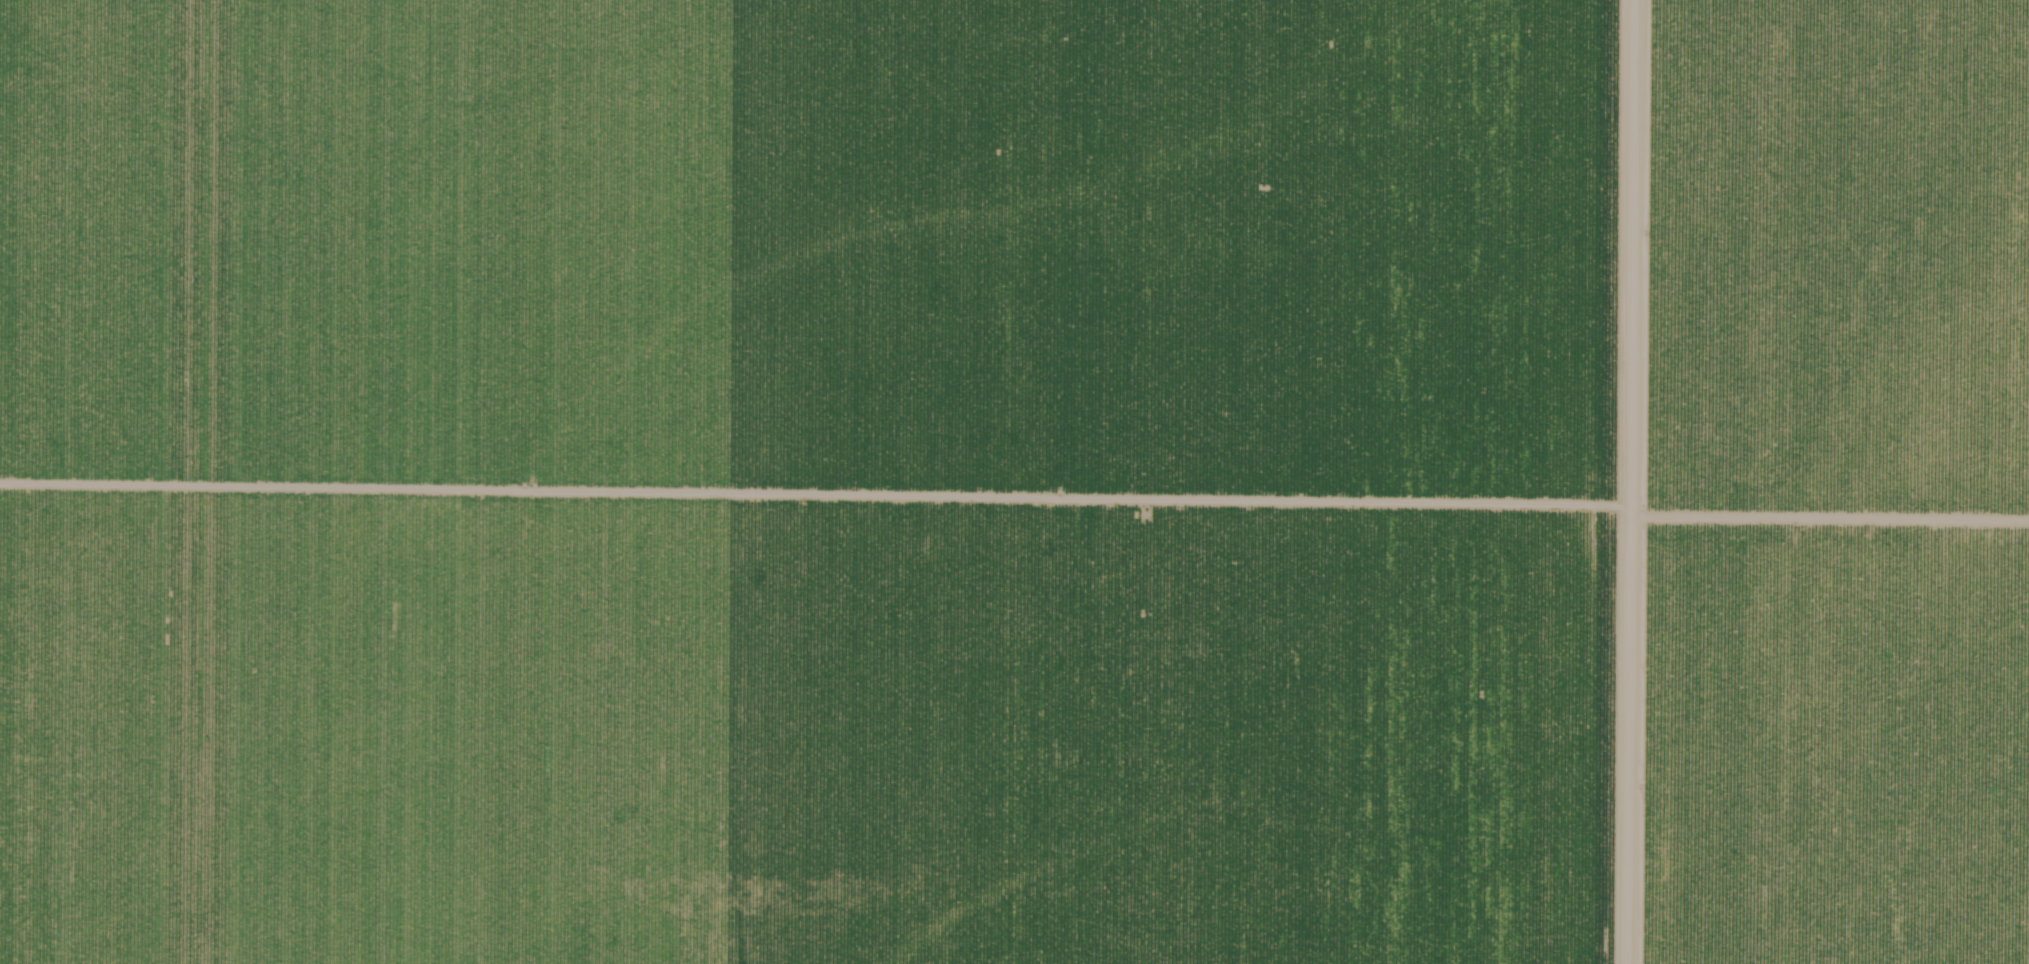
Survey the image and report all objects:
crop: (812, 481)
crop: (1827, 484)

